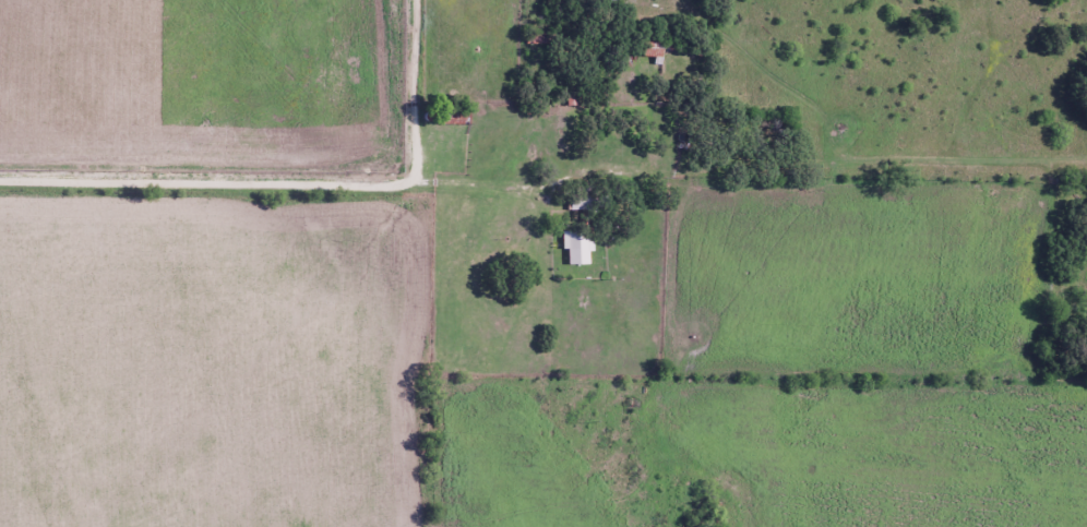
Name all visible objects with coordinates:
road: (419, 92)
road: (542, 179)
building: (577, 245)

